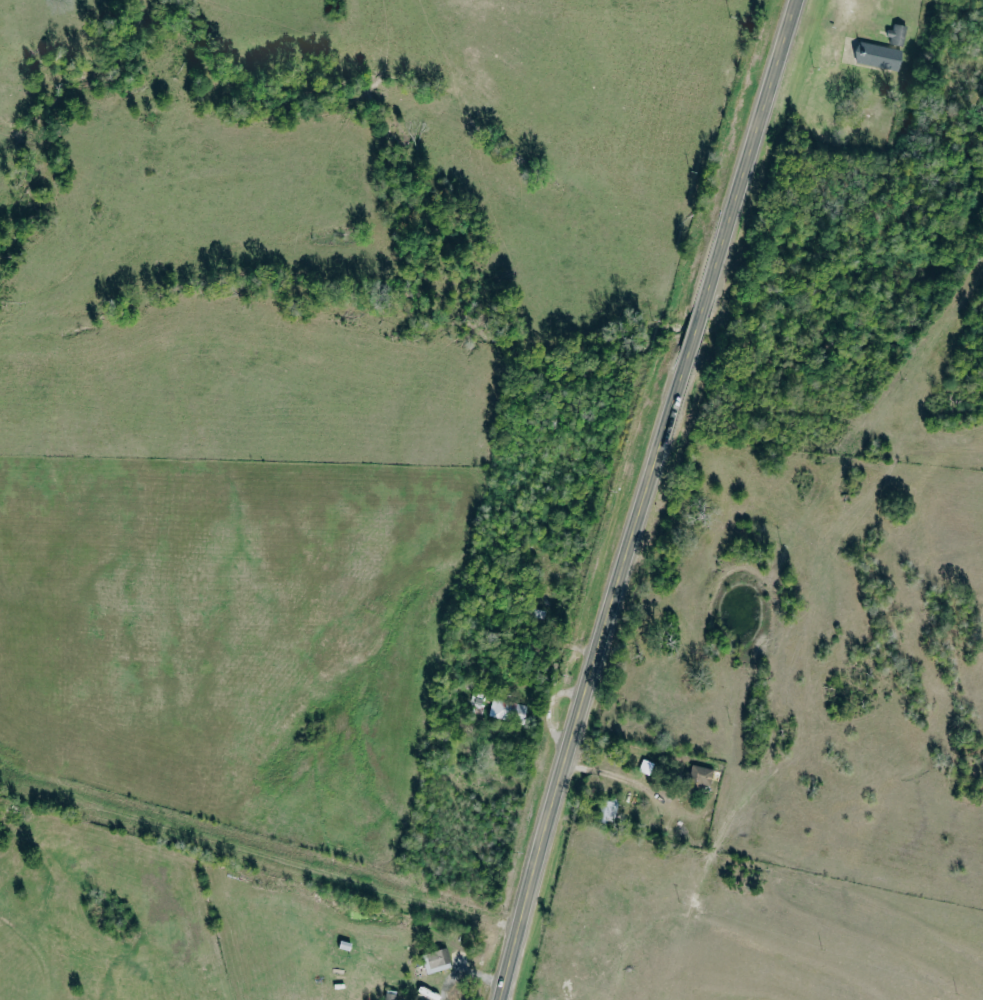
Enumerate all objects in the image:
building: (899, 34)
building: (879, 56)
road: (642, 498)
building: (509, 709)
building: (702, 775)
building: (438, 960)

